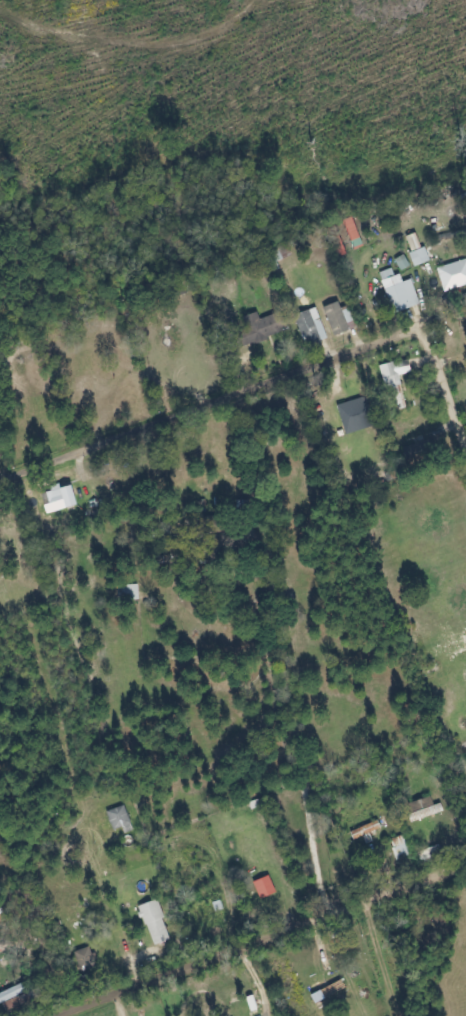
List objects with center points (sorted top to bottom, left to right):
building: (414, 242)
building: (276, 256)
building: (420, 257)
building: (403, 263)
building: (453, 276)
building: (400, 292)
building: (338, 318)
building: (311, 328)
building: (259, 329)
road: (304, 364)
building: (395, 376)
building: (356, 416)
building: (60, 500)
building: (130, 592)
building: (424, 809)
building: (121, 819)
building: (366, 830)
building: (265, 887)
building: (155, 923)
road: (258, 940)
building: (85, 958)
building: (11, 994)

